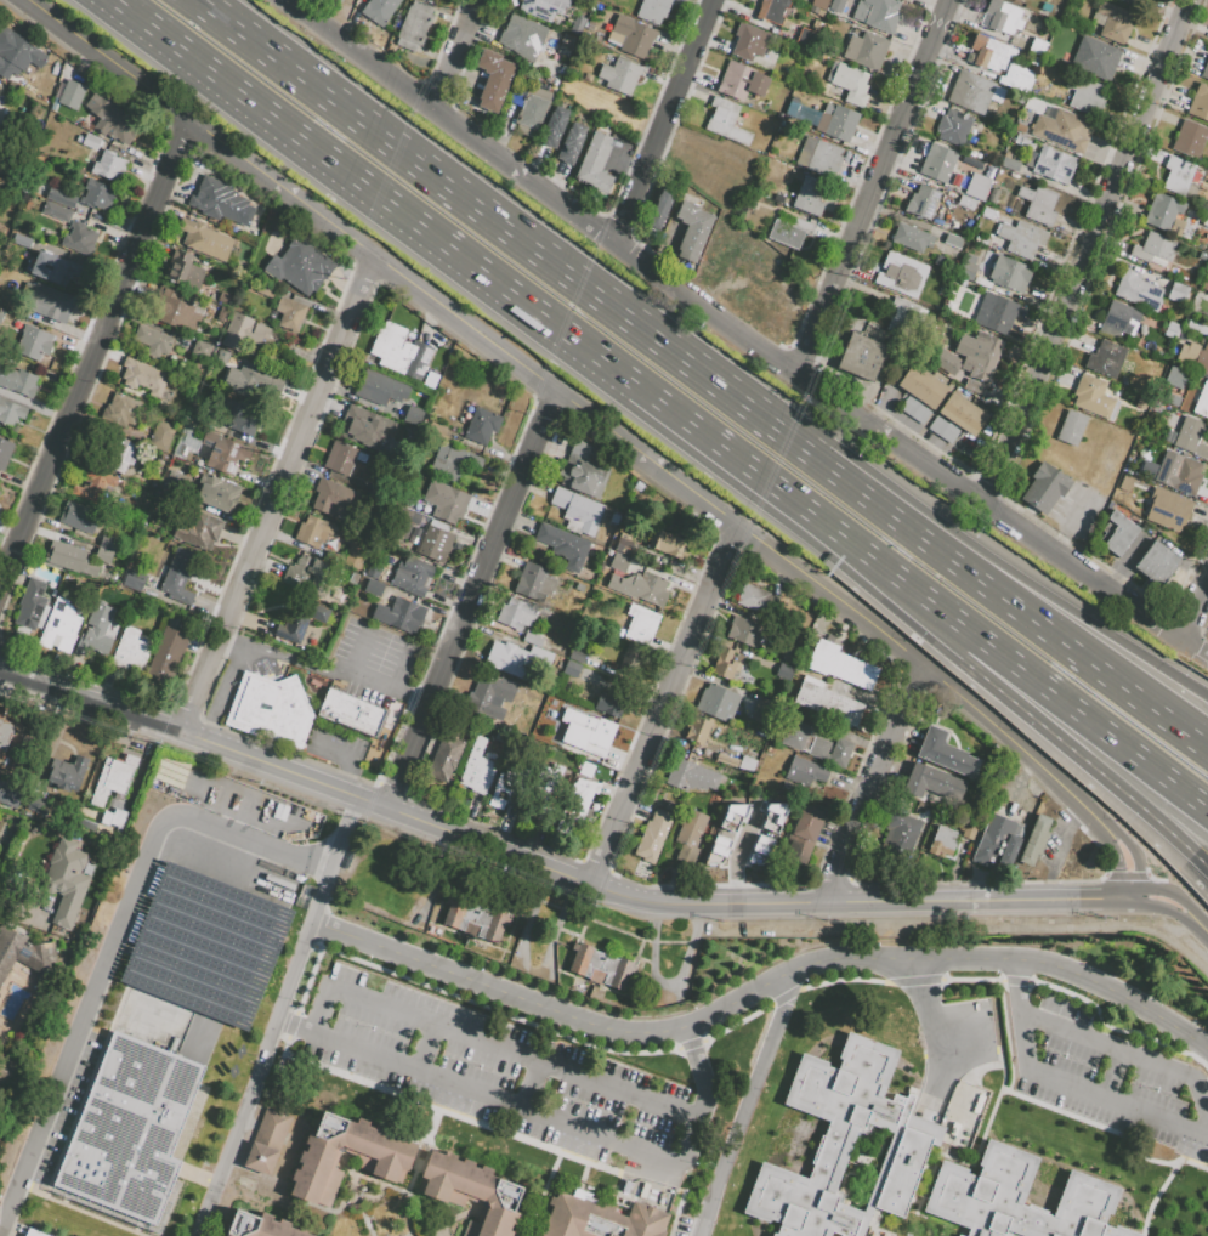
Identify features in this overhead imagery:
building: (339, 0)
building: (1016, 0)
building: (1132, 2)
building: (821, 4)
building: (836, 5)
building: (543, 7)
building: (653, 10)
building: (772, 10)
building: (379, 11)
building: (877, 13)
building: (1002, 17)
building: (1113, 22)
building: (414, 25)
building: (522, 36)
building: (630, 36)
building: (805, 36)
building: (1056, 39)
building: (749, 41)
building: (1037, 47)
building: (866, 49)
building: (989, 52)
building: (17, 53)
road: (458, 56)
building: (1095, 57)
building: (1206, 72)
building: (619, 76)
building: (1017, 78)
building: (493, 79)
building: (741, 81)
building: (846, 85)
building: (974, 91)
building: (1084, 93)
building: (72, 95)
building: (1198, 102)
building: (532, 109)
road: (664, 121)
building: (726, 121)
building: (836, 121)
building: (121, 127)
building: (554, 127)
building: (953, 127)
building: (1064, 130)
building: (1189, 140)
building: (91, 142)
building: (571, 142)
building: (1023, 142)
building: (819, 155)
building: (596, 163)
building: (937, 163)
building: (1009, 164)
building: (1054, 164)
building: (109, 166)
road: (427, 172)
building: (1002, 172)
building: (1178, 174)
building: (977, 186)
road: (873, 187)
building: (97, 195)
building: (61, 197)
building: (810, 197)
building: (217, 199)
building: (923, 202)
building: (1038, 203)
building: (660, 206)
building: (963, 208)
building: (57, 211)
building: (1162, 211)
building: (692, 231)
building: (789, 231)
building: (911, 237)
building: (79, 238)
building: (204, 239)
building: (1022, 239)
building: (19, 240)
building: (1153, 250)
road: (1088, 254)
building: (300, 266)
building: (183, 270)
building: (966, 270)
building: (59, 271)
building: (1010, 273)
building: (901, 274)
building: (266, 289)
building: (1138, 290)
road: (504, 291)
building: (1178, 291)
building: (223, 296)
building: (46, 301)
building: (176, 310)
building: (904, 312)
building: (290, 313)
building: (1000, 314)
building: (1119, 319)
road: (728, 327)
building: (1172, 329)
building: (1181, 334)
building: (245, 335)
building: (152, 340)
building: (387, 341)
building: (34, 342)
building: (202, 348)
road: (95, 353)
building: (861, 357)
building: (1193, 357)
building: (1106, 358)
building: (410, 359)
building: (975, 364)
building: (1175, 376)
building: (143, 378)
building: (18, 381)
building: (253, 384)
building: (921, 386)
building: (380, 387)
building: (1094, 397)
building: (1173, 399)
building: (1202, 401)
building: (1140, 404)
building: (1155, 407)
building: (129, 410)
building: (914, 410)
building: (10, 412)
building: (962, 414)
building: (240, 416)
building: (481, 425)
building: (365, 426)
building: (1071, 427)
road: (607, 429)
building: (943, 430)
building: (161, 436)
building: (410, 436)
building: (1191, 437)
building: (191, 441)
building: (112, 449)
building: (5, 452)
building: (225, 453)
building: (340, 457)
building: (361, 457)
building: (456, 465)
building: (1179, 472)
building: (584, 478)
building: (93, 483)
building: (1044, 488)
building: (217, 493)
building: (380, 493)
road: (279, 497)
building: (334, 497)
building: (409, 503)
building: (447, 503)
building: (1168, 509)
building: (578, 514)
building: (83, 518)
road: (936, 518)
building: (199, 529)
building: (313, 531)
building: (1118, 534)
building: (107, 543)
building: (435, 544)
road: (928, 544)
building: (670, 546)
building: (566, 549)
building: (624, 549)
building: (104, 555)
building: (70, 559)
building: (620, 565)
building: (1157, 565)
building: (307, 574)
building: (178, 576)
building: (413, 576)
building: (537, 585)
building: (373, 586)
building: (650, 591)
road: (471, 602)
building: (756, 602)
building: (32, 605)
road: (1195, 610)
building: (404, 616)
building: (518, 616)
building: (299, 622)
building: (641, 624)
building: (59, 626)
building: (96, 630)
building: (744, 631)
building: (531, 637)
road: (232, 645)
building: (131, 651)
road: (1195, 651)
building: (166, 653)
building: (578, 656)
building: (509, 658)
building: (635, 664)
building: (725, 664)
road: (289, 667)
building: (839, 667)
building: (572, 670)
parking lot: (372, 671)
building: (489, 691)
road: (1051, 699)
building: (716, 702)
building: (828, 703)
building: (606, 704)
road: (664, 707)
building: (272, 709)
building: (352, 713)
building: (5, 731)
building: (698, 731)
road: (1048, 731)
building: (585, 732)
road: (194, 738)
building: (813, 742)
road: (1203, 743)
parking lot: (340, 747)
building: (945, 754)
building: (446, 759)
road: (346, 761)
building: (478, 769)
building: (588, 771)
building: (67, 773)
building: (806, 773)
building: (691, 777)
building: (113, 778)
building: (514, 783)
road: (875, 786)
building: (500, 788)
building: (934, 788)
building: (22, 798)
building: (550, 801)
building: (578, 804)
building: (671, 807)
building: (747, 811)
building: (731, 816)
building: (771, 816)
building: (113, 818)
building: (89, 826)
road: (425, 826)
building: (691, 829)
building: (898, 835)
building: (653, 837)
building: (724, 837)
building: (804, 839)
building: (1036, 841)
building: (943, 844)
building: (997, 844)
parking lot: (1054, 846)
building: (760, 849)
road: (1064, 852)
building: (685, 855)
road: (339, 860)
building: (716, 864)
building: (68, 879)
road: (823, 906)
building: (476, 920)
road: (1198, 926)
road: (318, 932)
road: (566, 934)
road: (460, 936)
road: (113, 941)
road: (506, 948)
road: (330, 952)
road: (566, 954)
building: (27, 956)
road: (942, 957)
road: (639, 958)
building: (601, 966)
building: (197, 969)
road: (793, 979)
road: (492, 981)
road: (609, 990)
road: (588, 999)
road: (321, 1009)
road: (930, 1026)
road: (426, 1048)
road: (514, 1053)
road: (1133, 1054)
road: (1113, 1075)
road: (256, 1077)
road: (1066, 1084)
road: (532, 1087)
road: (704, 1090)
road: (480, 1094)
road: (747, 1099)
road: (261, 1110)
building: (131, 1129)
building: (267, 1141)
building: (845, 1145)
road: (422, 1152)
building: (384, 1160)
road: (240, 1167)
road: (647, 1175)
road: (398, 1192)
building: (472, 1192)
road: (541, 1194)
road: (379, 1198)
building: (1017, 1200)
road: (359, 1206)
road: (364, 1206)
road: (456, 1219)
building: (601, 1219)
road: (702, 1223)
building: (73, 1224)
road: (427, 1225)
building: (261, 1226)
building: (33, 1232)

